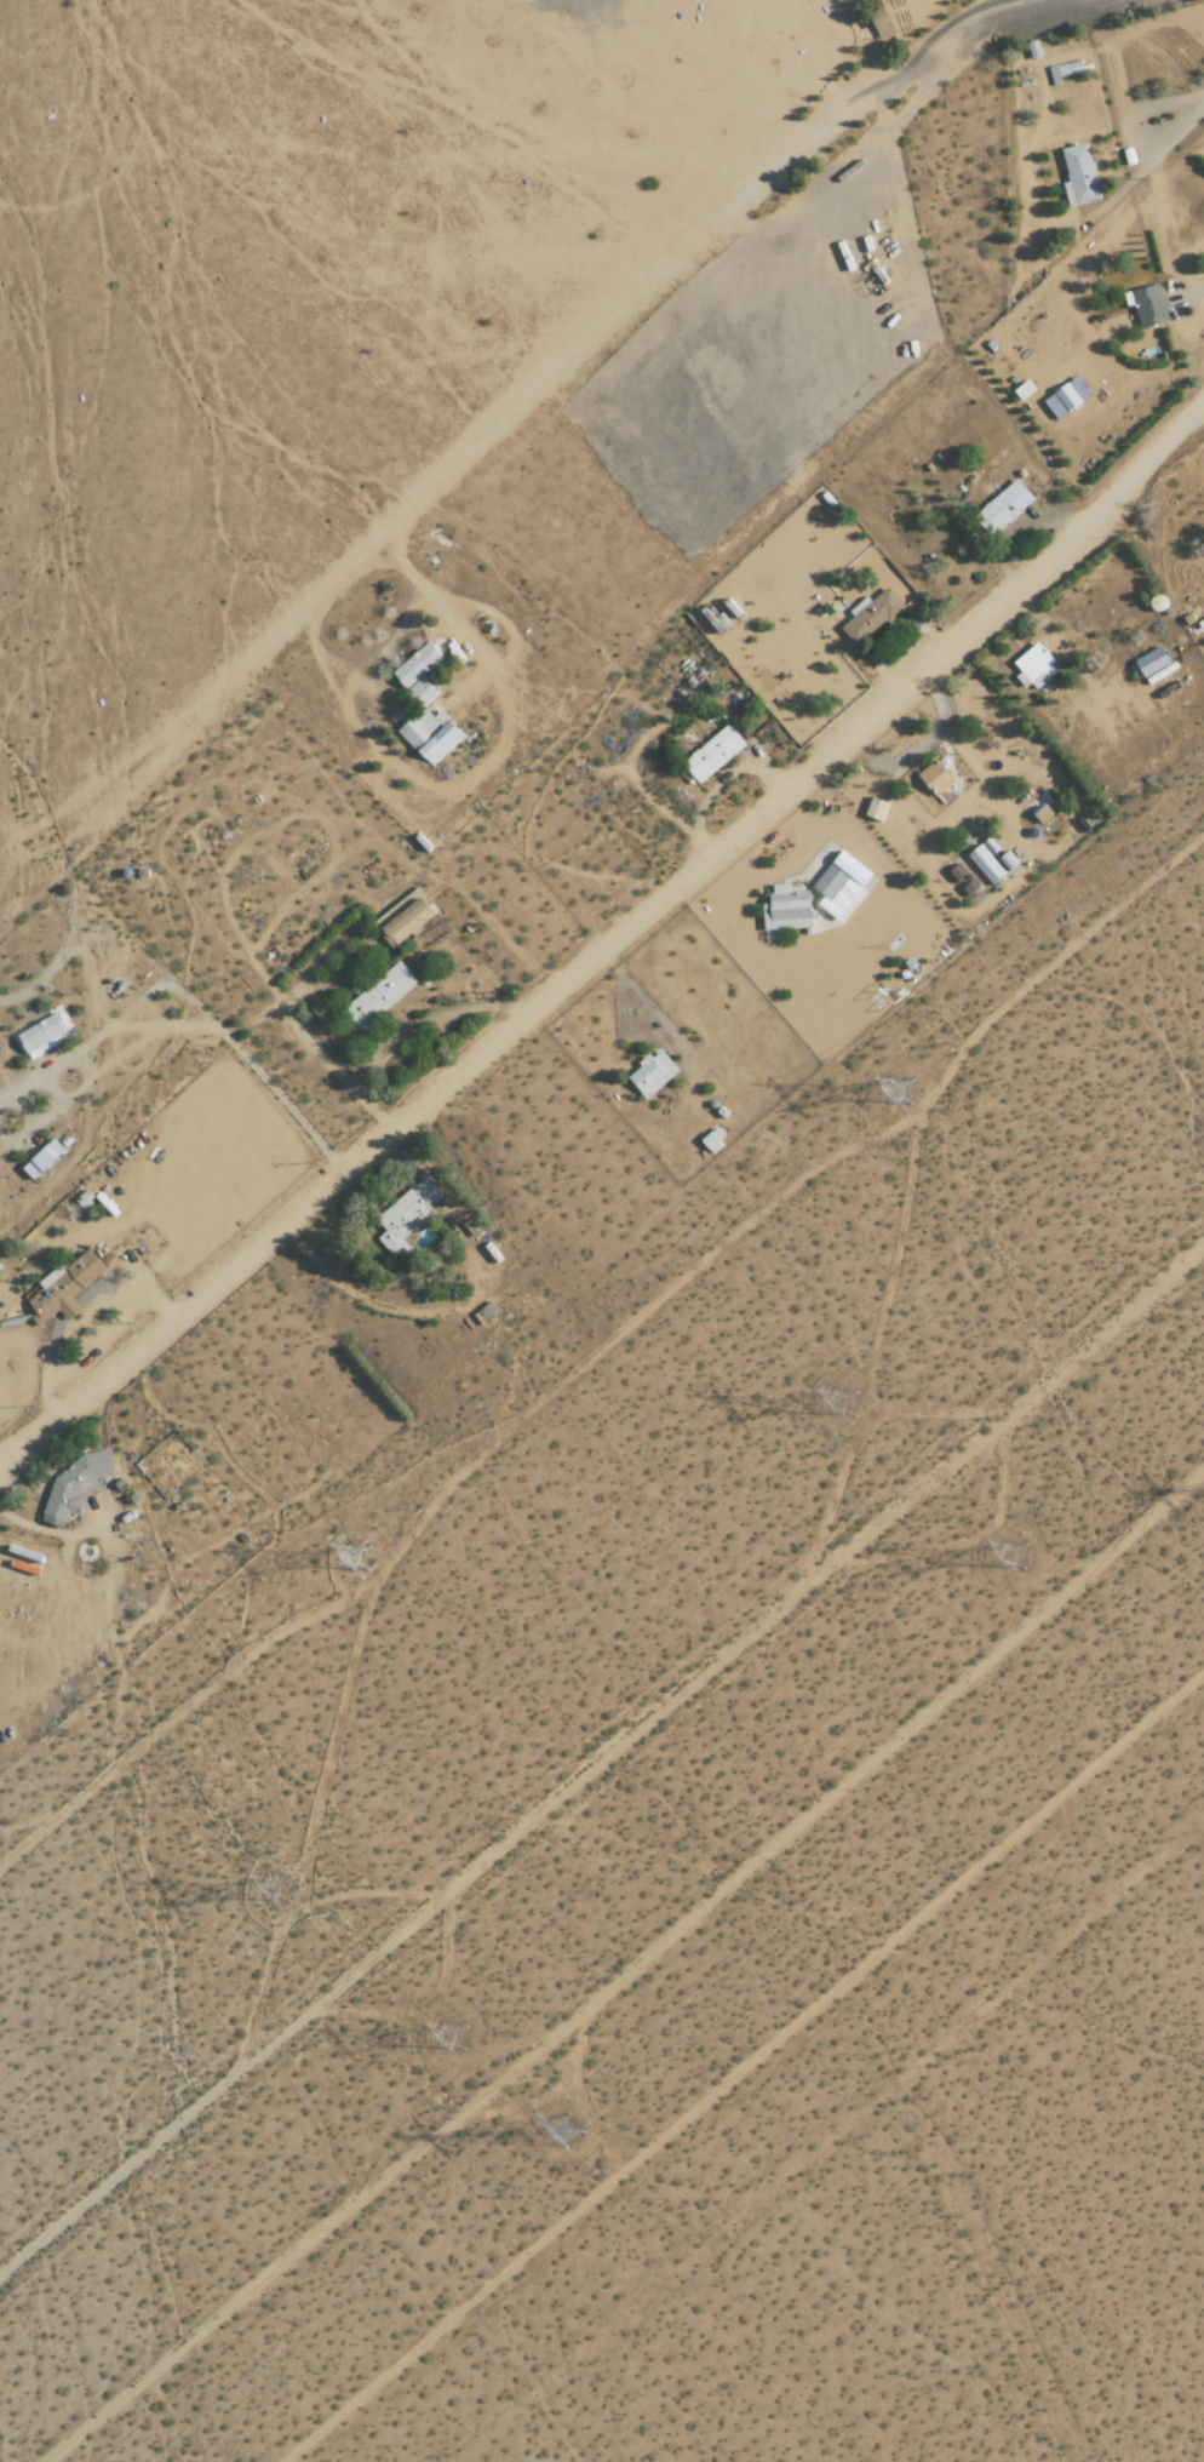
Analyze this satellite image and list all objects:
building: (1079, 176)
road: (1118, 184)
building: (1147, 305)
road: (567, 362)
building: (1002, 509)
building: (871, 615)
building: (1151, 662)
building: (415, 665)
building: (1034, 668)
building: (420, 694)
building: (429, 737)
building: (712, 754)
building: (936, 777)
building: (876, 809)
building: (986, 864)
building: (964, 880)
building: (841, 884)
building: (786, 910)
building: (407, 922)
road: (607, 941)
building: (378, 996)
road: (642, 997)
building: (42, 1034)
building: (652, 1075)
power tower: (916, 1093)
building: (41, 1158)
building: (406, 1214)
building: (64, 1287)
power tower: (848, 1410)
building: (74, 1485)
power tower: (1022, 1547)
power tower: (366, 1558)
road: (602, 1771)
power tower: (288, 1897)
power tower: (464, 2038)
road: (745, 2065)
power tower: (577, 2137)

